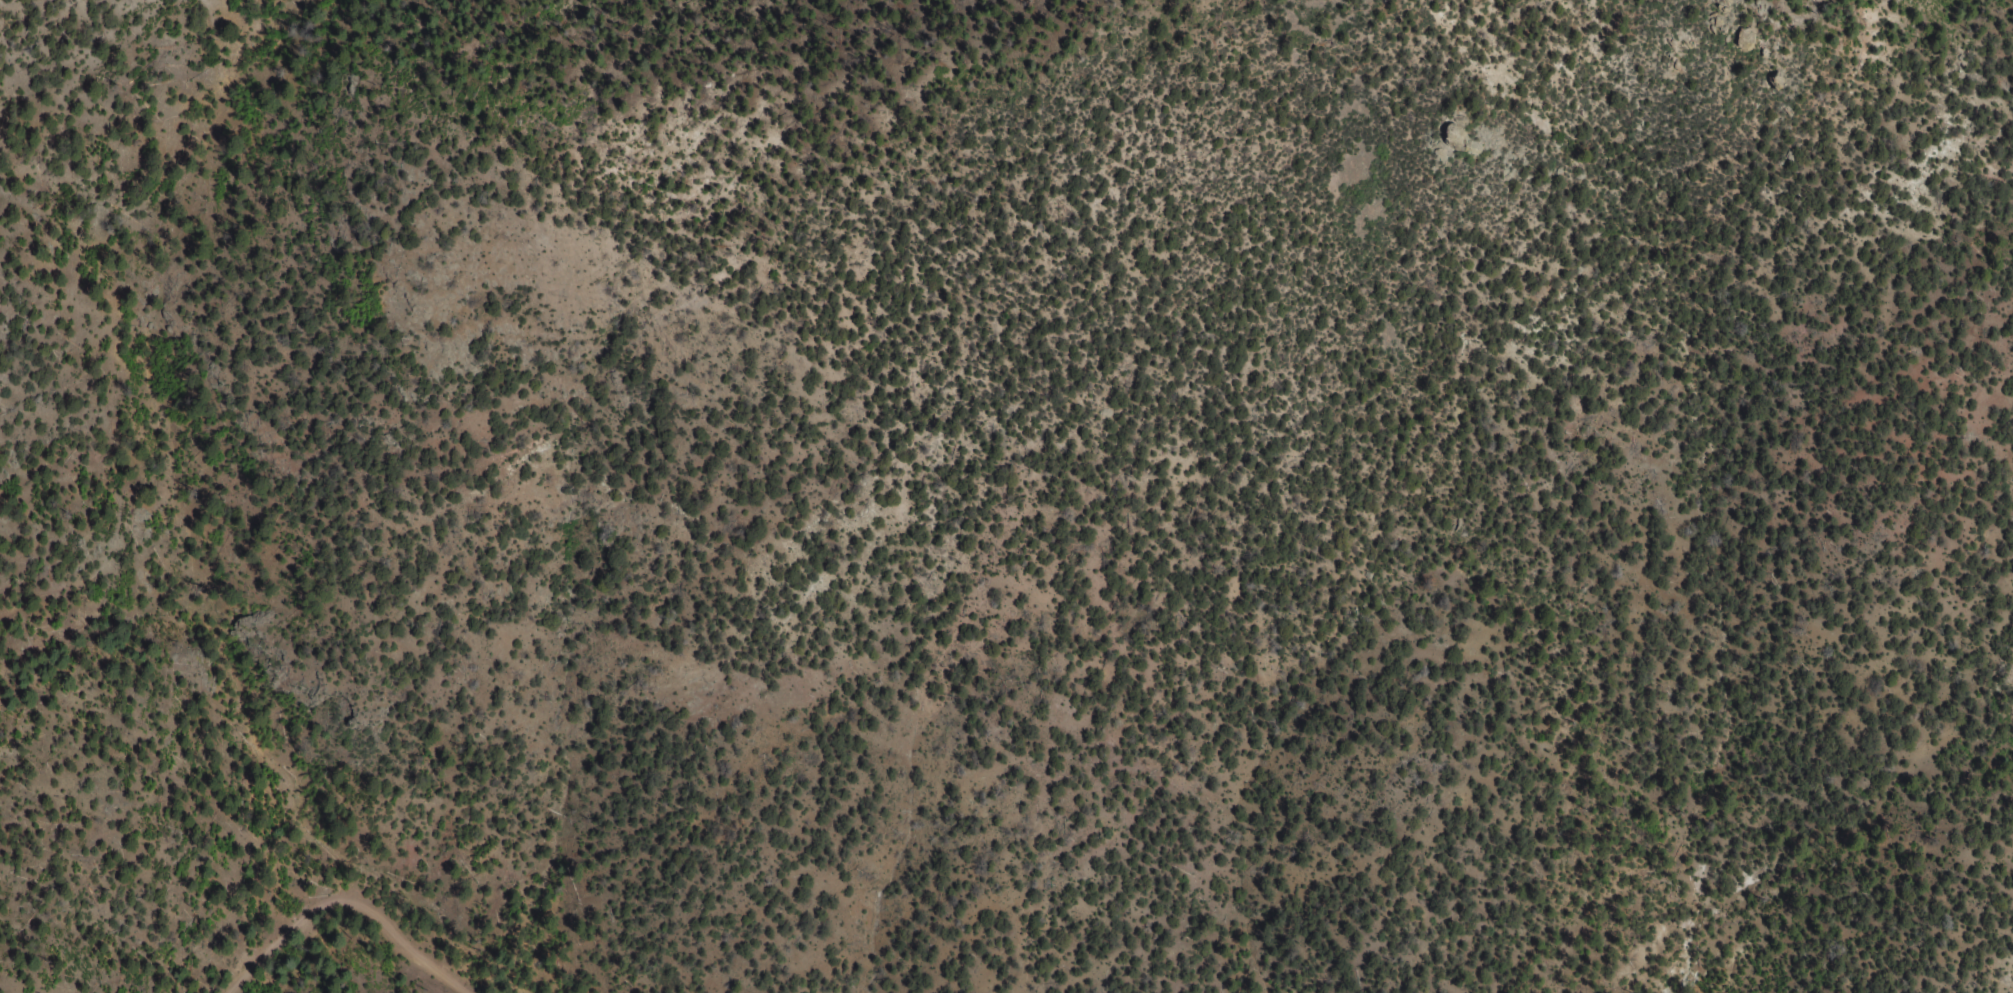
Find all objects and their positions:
road: (342, 903)

